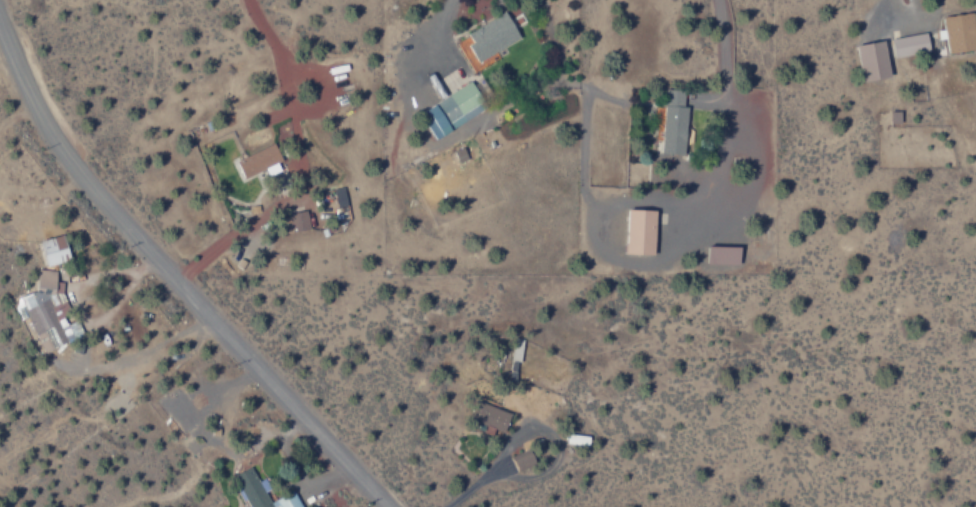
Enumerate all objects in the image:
building: (959, 33)
building: (492, 37)
building: (910, 45)
building: (872, 61)
building: (453, 110)
building: (674, 123)
building: (260, 162)
building: (296, 222)
building: (640, 232)
building: (54, 250)
building: (722, 255)
road: (167, 274)
building: (42, 313)
building: (514, 361)
building: (489, 418)
building: (523, 461)
building: (260, 492)

